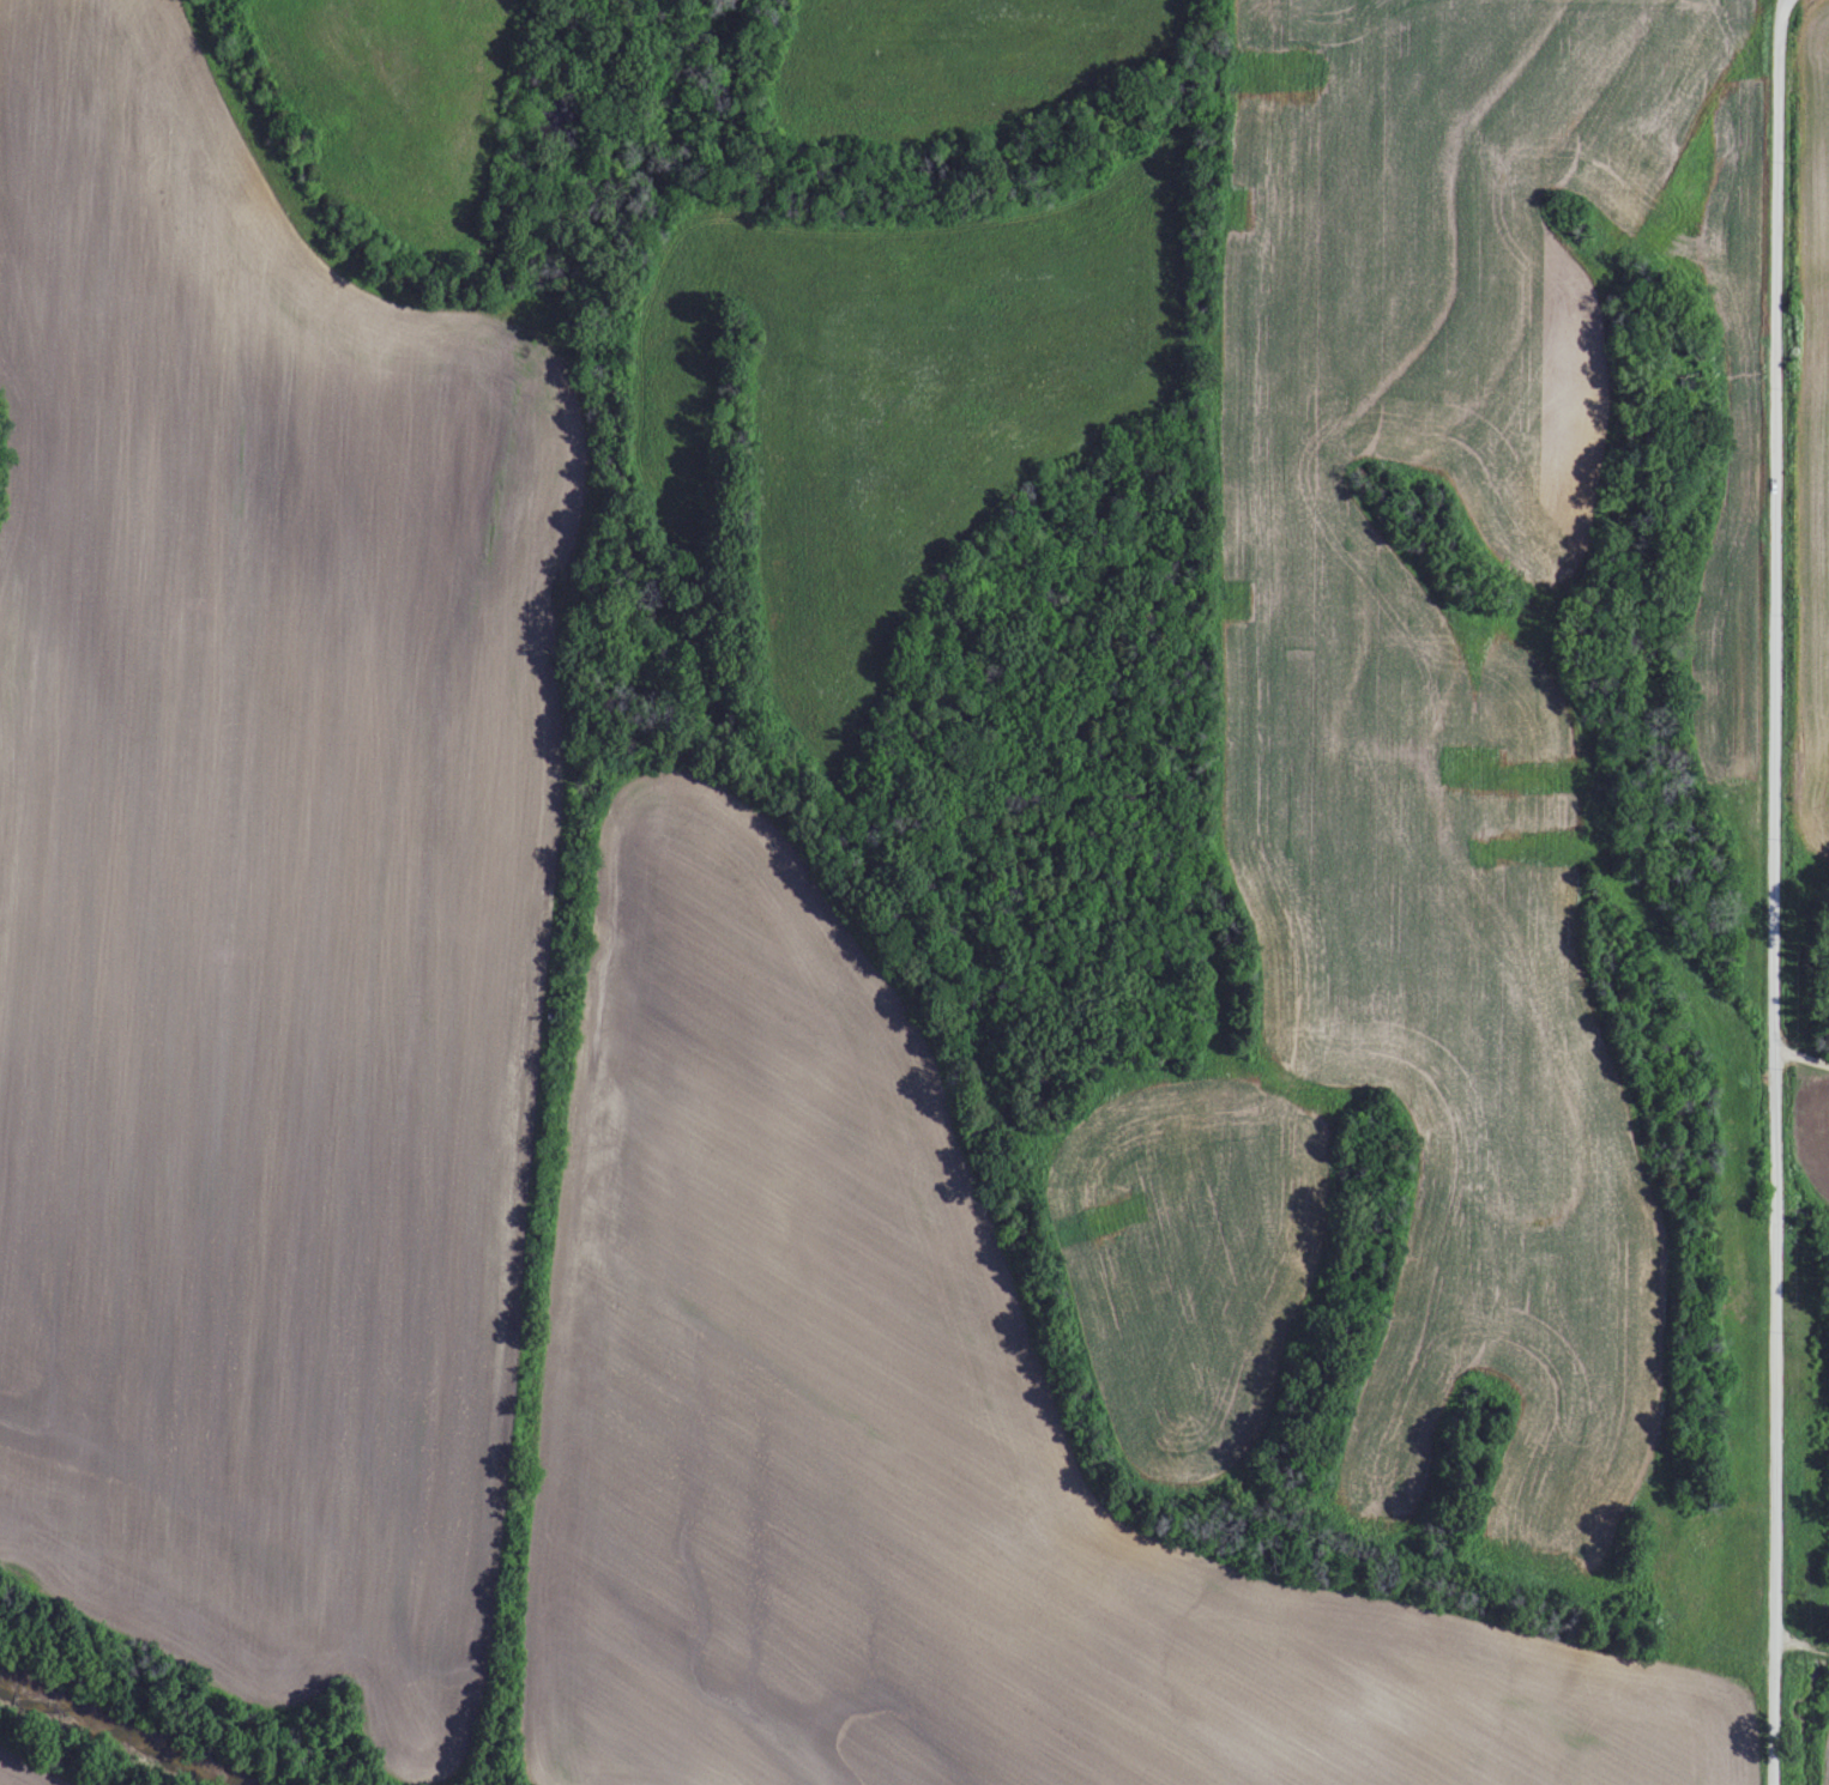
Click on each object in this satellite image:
road: (1773, 891)

